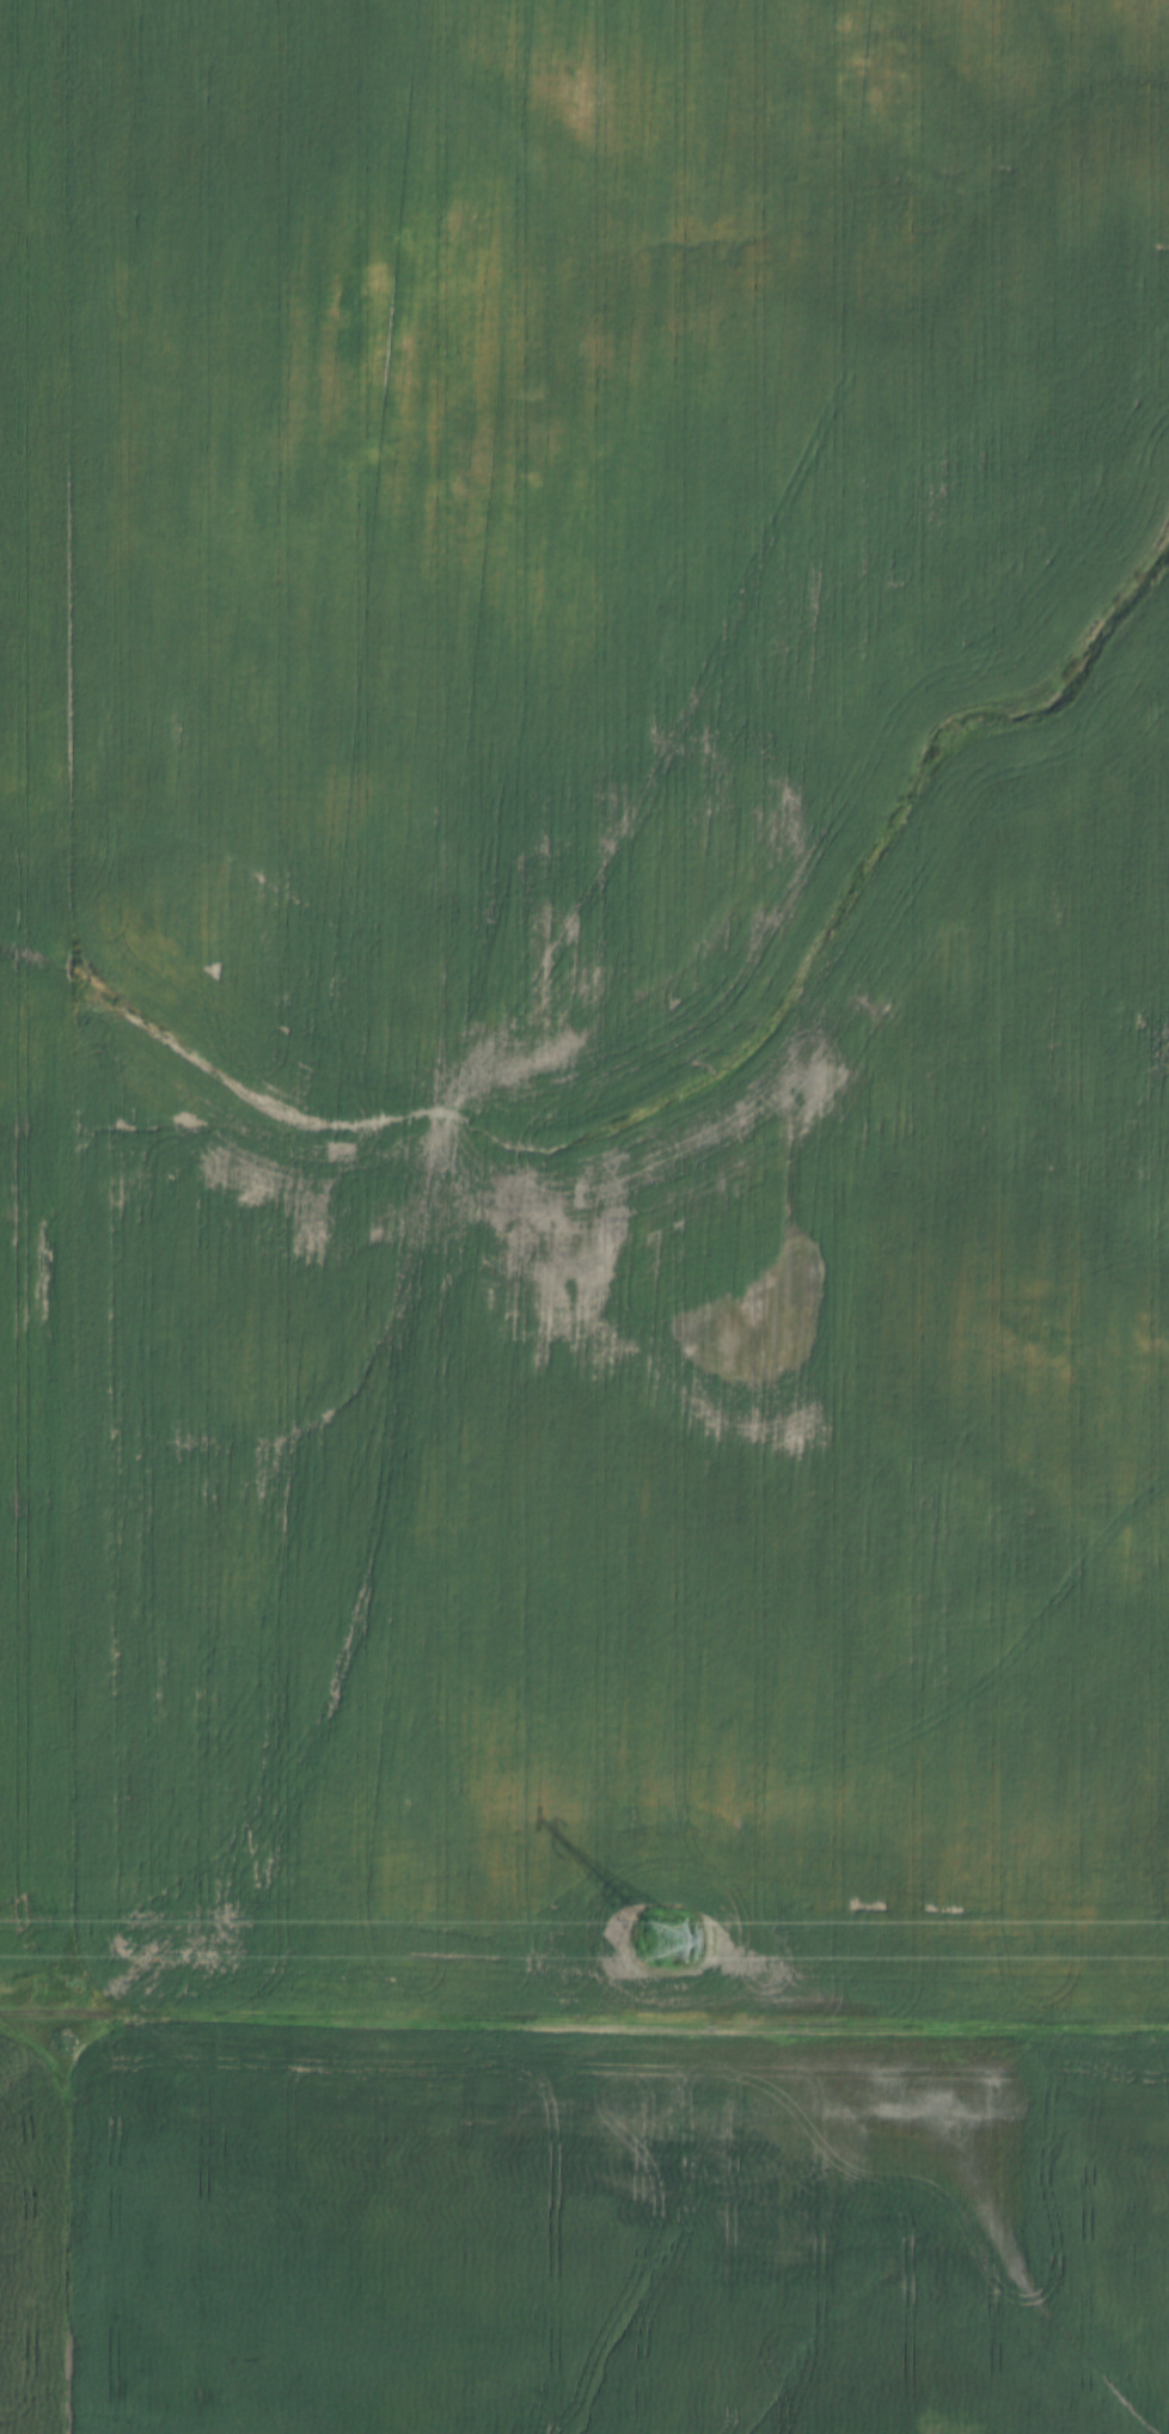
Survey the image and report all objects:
power tower: (665, 1943)
road: (583, 2013)

